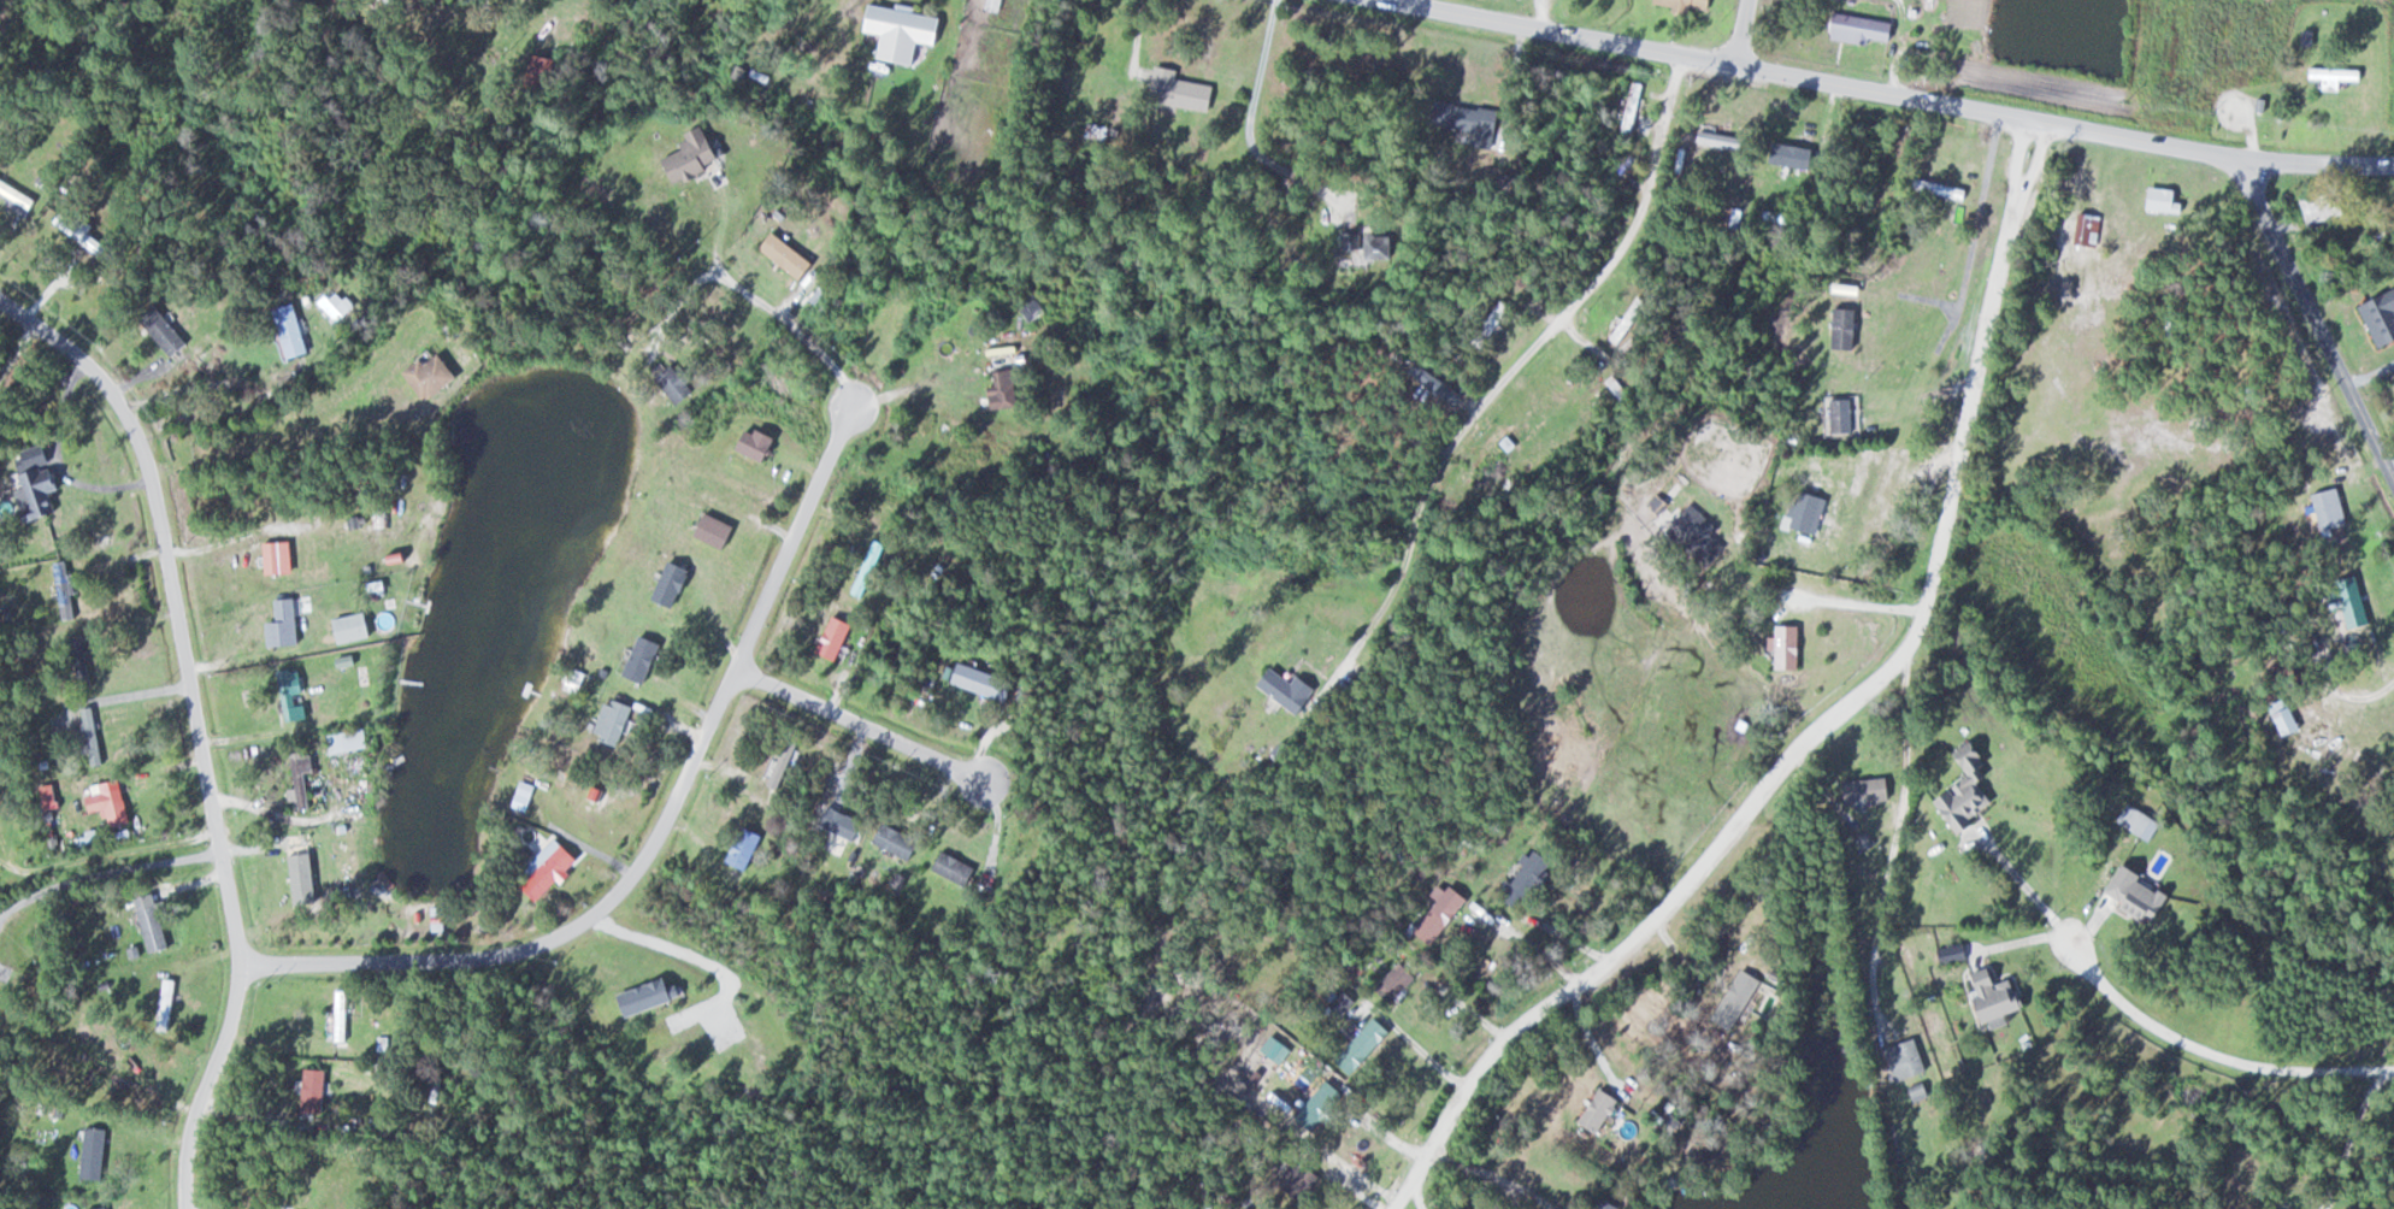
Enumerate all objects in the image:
building: (1677, 4)
building: (1855, 28)
building: (895, 33)
road: (1743, 33)
building: (2330, 76)
building: (1174, 89)
road: (1885, 90)
building: (1627, 105)
building: (1457, 118)
building: (1703, 137)
building: (686, 153)
building: (1783, 154)
road: (2018, 155)
road: (2034, 159)
building: (1935, 188)
building: (2315, 207)
building: (2083, 229)
building: (1362, 244)
road: (1970, 247)
building: (780, 255)
building: (1030, 311)
building: (2377, 314)
road: (2317, 323)
building: (1486, 325)
building: (1838, 328)
building: (293, 331)
building: (171, 335)
building: (438, 375)
building: (670, 383)
road: (1500, 387)
building: (997, 388)
building: (1835, 414)
building: (747, 442)
building: (39, 491)
building: (1800, 512)
building: (2325, 514)
building: (707, 529)
building: (1692, 533)
building: (282, 558)
building: (863, 568)
building: (664, 583)
building: (70, 591)
building: (2345, 600)
building: (289, 624)
building: (358, 627)
building: (827, 637)
building: (1782, 645)
building: (635, 659)
building: (974, 680)
building: (1280, 688)
building: (295, 691)
building: (2278, 718)
building: (606, 720)
road: (199, 725)
road: (857, 725)
building: (96, 737)
building: (352, 741)
road: (1795, 748)
building: (779, 761)
building: (306, 778)
building: (530, 789)
building: (1861, 790)
building: (1957, 801)
building: (114, 802)
building: (833, 821)
road: (654, 828)
building: (889, 839)
building: (736, 847)
building: (948, 867)
building: (553, 869)
building: (306, 875)
building: (1519, 879)
building: (2131, 894)
building: (1434, 912)
building: (158, 922)
building: (443, 924)
building: (1391, 981)
building: (1989, 997)
building: (1730, 999)
building: (171, 1004)
building: (346, 1016)
building: (1362, 1039)
building: (666, 1043)
road: (2216, 1054)
building: (1899, 1060)
building: (318, 1090)
building: (1593, 1110)
building: (1307, 1113)
building: (99, 1152)
building: (1292, 1179)
road: (1416, 1195)
building: (1598, 1204)
building: (110, 1208)

